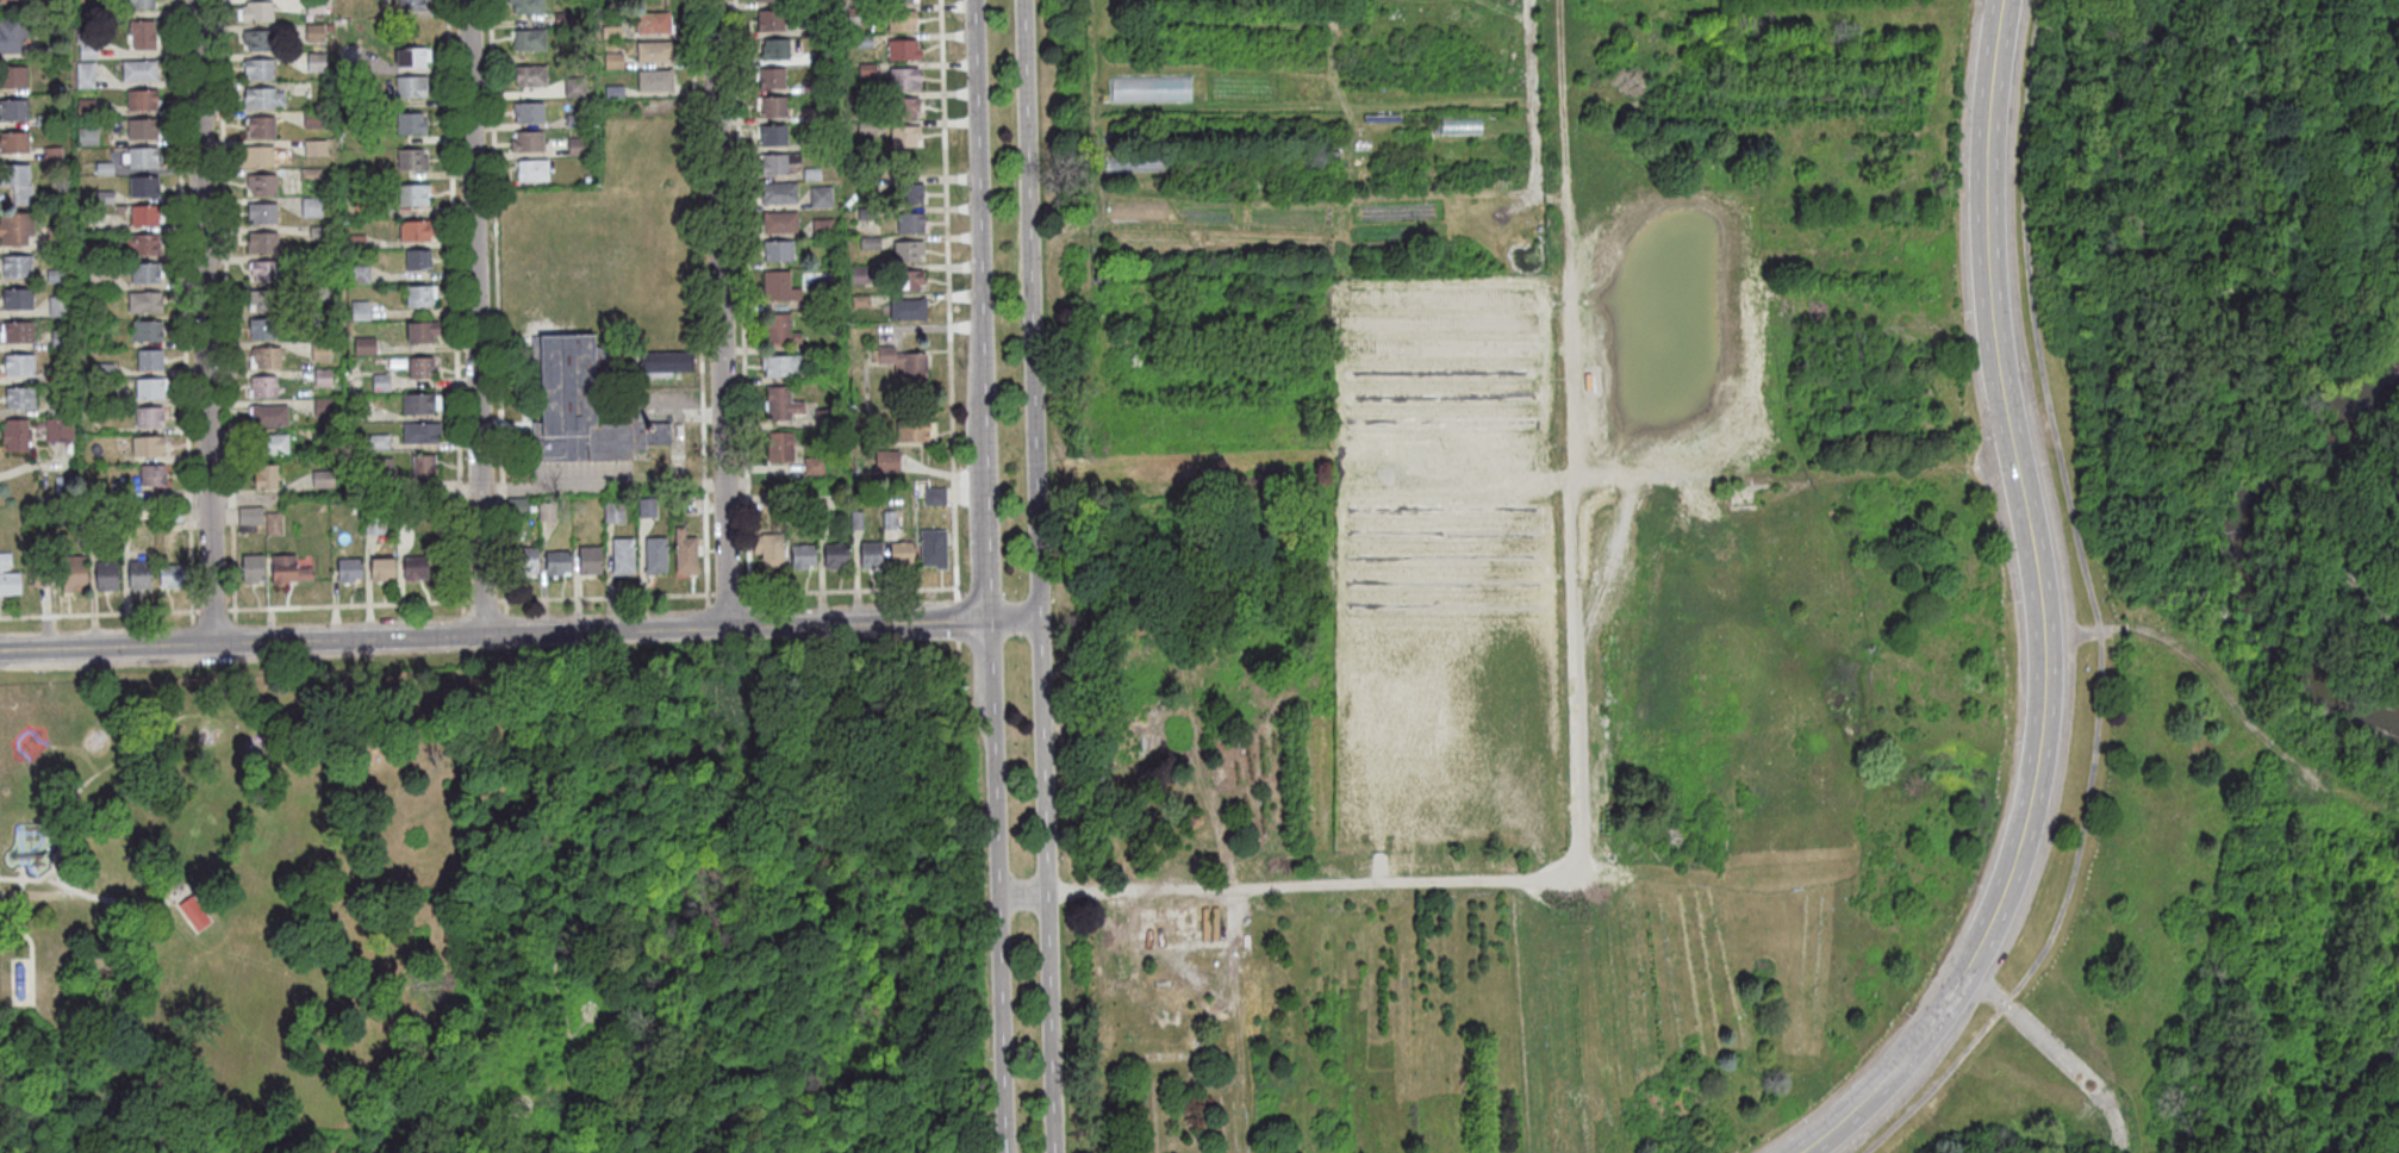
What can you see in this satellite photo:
building: (773, 1)
building: (902, 1)
landfill: (1491, 1)
building: (2, 2)
building: (145, 4)
building: (411, 6)
building: (314, 7)
building: (528, 7)
road: (1395, 11)
road: (1510, 11)
building: (102, 12)
building: (257, 14)
building: (856, 18)
building: (563, 20)
road: (1416, 20)
building: (771, 23)
building: (902, 23)
landfill: (1518, 23)
road: (1213, 24)
building: (653, 25)
building: (820, 25)
building: (612, 33)
building: (314, 35)
building: (143, 36)
building: (13, 37)
building: (530, 42)
building: (258, 43)
building: (865, 43)
building: (88, 48)
building: (777, 51)
building: (904, 51)
building: (654, 54)
building: (42, 55)
building: (412, 60)
building: (820, 60)
road: (1328, 60)
building: (613, 63)
building: (317, 64)
building: (260, 70)
building: (868, 71)
building: (141, 73)
road: (1265, 73)
building: (86, 76)
building: (13, 79)
building: (530, 79)
building: (772, 80)
building: (905, 80)
building: (656, 82)
building: (1304, 86)
building: (411, 88)
building: (814, 88)
building: (1151, 88)
building: (574, 89)
building: (615, 94)
road: (1280, 96)
road: (1441, 96)
road: (1531, 98)
building: (263, 100)
building: (143, 101)
building: (860, 101)
road: (1148, 105)
road: (1259, 105)
building: (86, 108)
building: (773, 108)
building: (904, 108)
road: (1097, 111)
building: (13, 112)
building: (529, 114)
road: (1303, 114)
building: (814, 116)
building: (1347, 119)
building: (314, 120)
building: (45, 123)
building: (577, 123)
building: (411, 125)
building: (1347, 127)
building: (261, 129)
building: (868, 130)
building: (143, 131)
road: (1356, 131)
building: (772, 137)
building: (87, 138)
building: (906, 138)
crop: (1316, 138)
road: (1438, 138)
building: (14, 144)
building: (528, 144)
building: (814, 145)
building: (578, 148)
building: (316, 149)
building: (54, 155)
road: (1255, 155)
building: (143, 158)
building: (257, 158)
building: (413, 162)
building: (1134, 163)
building: (777, 164)
road: (1101, 164)
building: (105, 170)
building: (532, 173)
building: (14, 176)
building: (311, 176)
building: (812, 176)
building: (587, 181)
building: (262, 186)
building: (868, 187)
building: (144, 188)
building: (780, 195)
building: (910, 195)
road: (1223, 195)
building: (413, 197)
road: (1425, 197)
building: (105, 199)
building: (822, 199)
building: (312, 208)
road: (1174, 210)
road: (1238, 211)
building: (263, 216)
building: (867, 216)
building: (145, 217)
road: (1107, 220)
road: (1392, 223)
building: (96, 224)
building: (781, 224)
building: (911, 225)
road: (1107, 225)
road: (1216, 225)
road: (1060, 226)
road: (1340, 226)
building: (823, 229)
building: (17, 230)
building: (416, 233)
building: (319, 235)
building: (58, 238)
road: (1189, 238)
building: (357, 243)
building: (262, 244)
building: (871, 244)
building: (144, 245)
building: (91, 253)
building: (779, 253)
road: (1209, 253)
building: (910, 254)
building: (419, 262)
building: (320, 264)
building: (17, 267)
building: (266, 274)
building: (148, 275)
building: (360, 275)
building: (860, 276)
building: (56, 278)
building: (99, 281)
building: (909, 282)
building: (780, 289)
building: (420, 298)
road: (947, 300)
building: (18, 301)
building: (145, 304)
building: (264, 304)
building: (861, 304)
road: (497, 307)
building: (60, 308)
road: (226, 311)
road: (718, 312)
building: (909, 312)
building: (361, 313)
road: (455, 316)
road: (475, 316)
building: (320, 320)
road: (202, 322)
road: (183, 323)
building: (780, 331)
building: (263, 332)
building: (148, 334)
building: (19, 335)
building: (422, 335)
building: (62, 342)
building: (364, 348)
building: (320, 354)
building: (267, 360)
building: (150, 362)
building: (667, 363)
building: (20, 367)
building: (783, 367)
building: (906, 367)
building: (422, 370)
building: (106, 372)
building: (61, 374)
building: (816, 375)
building: (323, 380)
building: (381, 385)
building: (151, 389)
building: (263, 389)
building: (21, 400)
building: (107, 400)
building: (420, 406)
building: (783, 406)
building: (60, 407)
building: (585, 407)
building: (325, 410)
building: (270, 418)
building: (149, 419)
building: (827, 419)
building: (60, 431)
building: (914, 434)
building: (422, 435)
building: (17, 437)
building: (378, 443)
building: (148, 447)
building: (270, 447)
building: (781, 449)
building: (889, 462)
building: (815, 467)
building: (385, 468)
building: (424, 469)
road: (1504, 476)
building: (152, 478)
building: (267, 479)
building: (324, 481)
building: (60, 485)
building: (784, 496)
building: (936, 498)
building: (762, 503)
building: (518, 507)
building: (648, 510)
building: (548, 513)
building: (613, 513)
building: (174, 517)
building: (251, 518)
building: (856, 522)
building: (890, 522)
road: (2025, 522)
building: (275, 526)
building: (375, 526)
river: (2237, 549)
building: (934, 550)
building: (769, 551)
building: (686, 555)
building: (872, 556)
building: (902, 556)
building: (656, 557)
building: (836, 557)
building: (623, 559)
building: (804, 559)
building: (591, 562)
building: (526, 563)
building: (559, 566)
building: (253, 571)
building: (416, 571)
building: (288, 572)
building: (350, 572)
building: (382, 572)
building: (74, 574)
road: (987, 575)
road: (1038, 575)
building: (139, 576)
building: (43, 578)
building: (106, 578)
building: (173, 578)
building: (8, 579)
road: (476, 602)
road: (1575, 606)
road: (2095, 610)
road: (957, 619)
road: (1015, 621)
road: (506, 623)
road: (494, 631)
road: (235, 632)
street lamp: (1018, 641)
road: (958, 647)
park: (1429, 659)
road: (212, 678)
road: (1185, 687)
road: (2227, 698)
road: (466, 736)
road: (75, 749)
road: (49, 867)
road: (61, 883)
road: (1139, 887)
road: (1022, 890)
road: (82, 892)
building: (194, 912)
building: (1210, 923)
road: (26, 937)
building: (20, 981)
road: (2055, 1052)
road: (285, 1080)
road: (1867, 1092)

